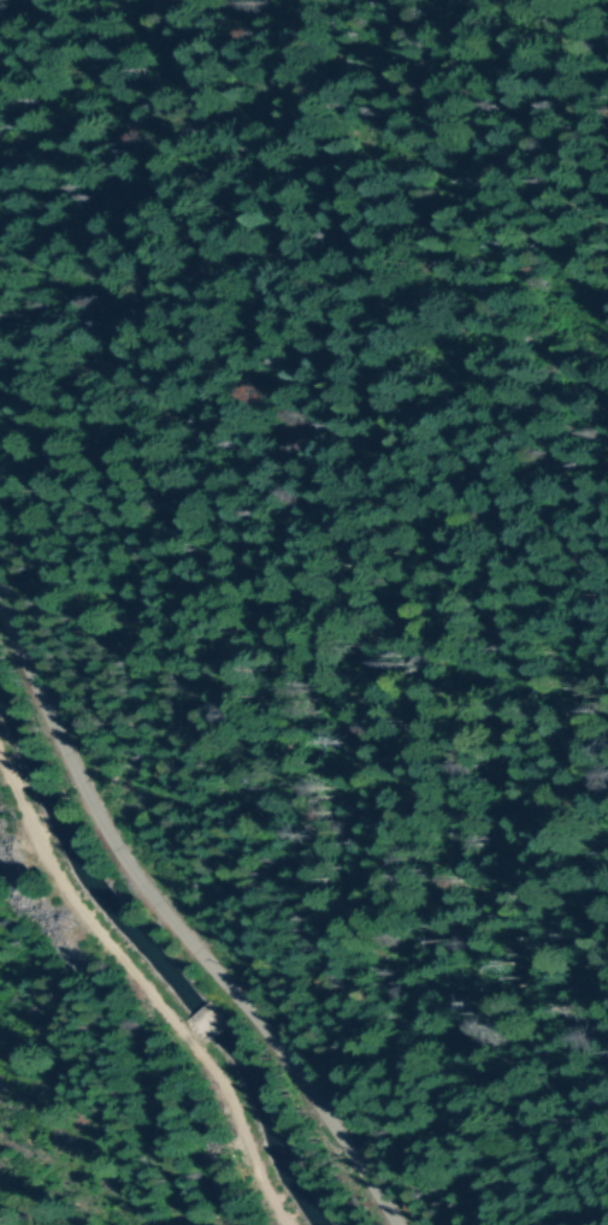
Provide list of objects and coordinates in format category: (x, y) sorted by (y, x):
road: (179, 922)
road: (146, 984)
road: (216, 1017)

